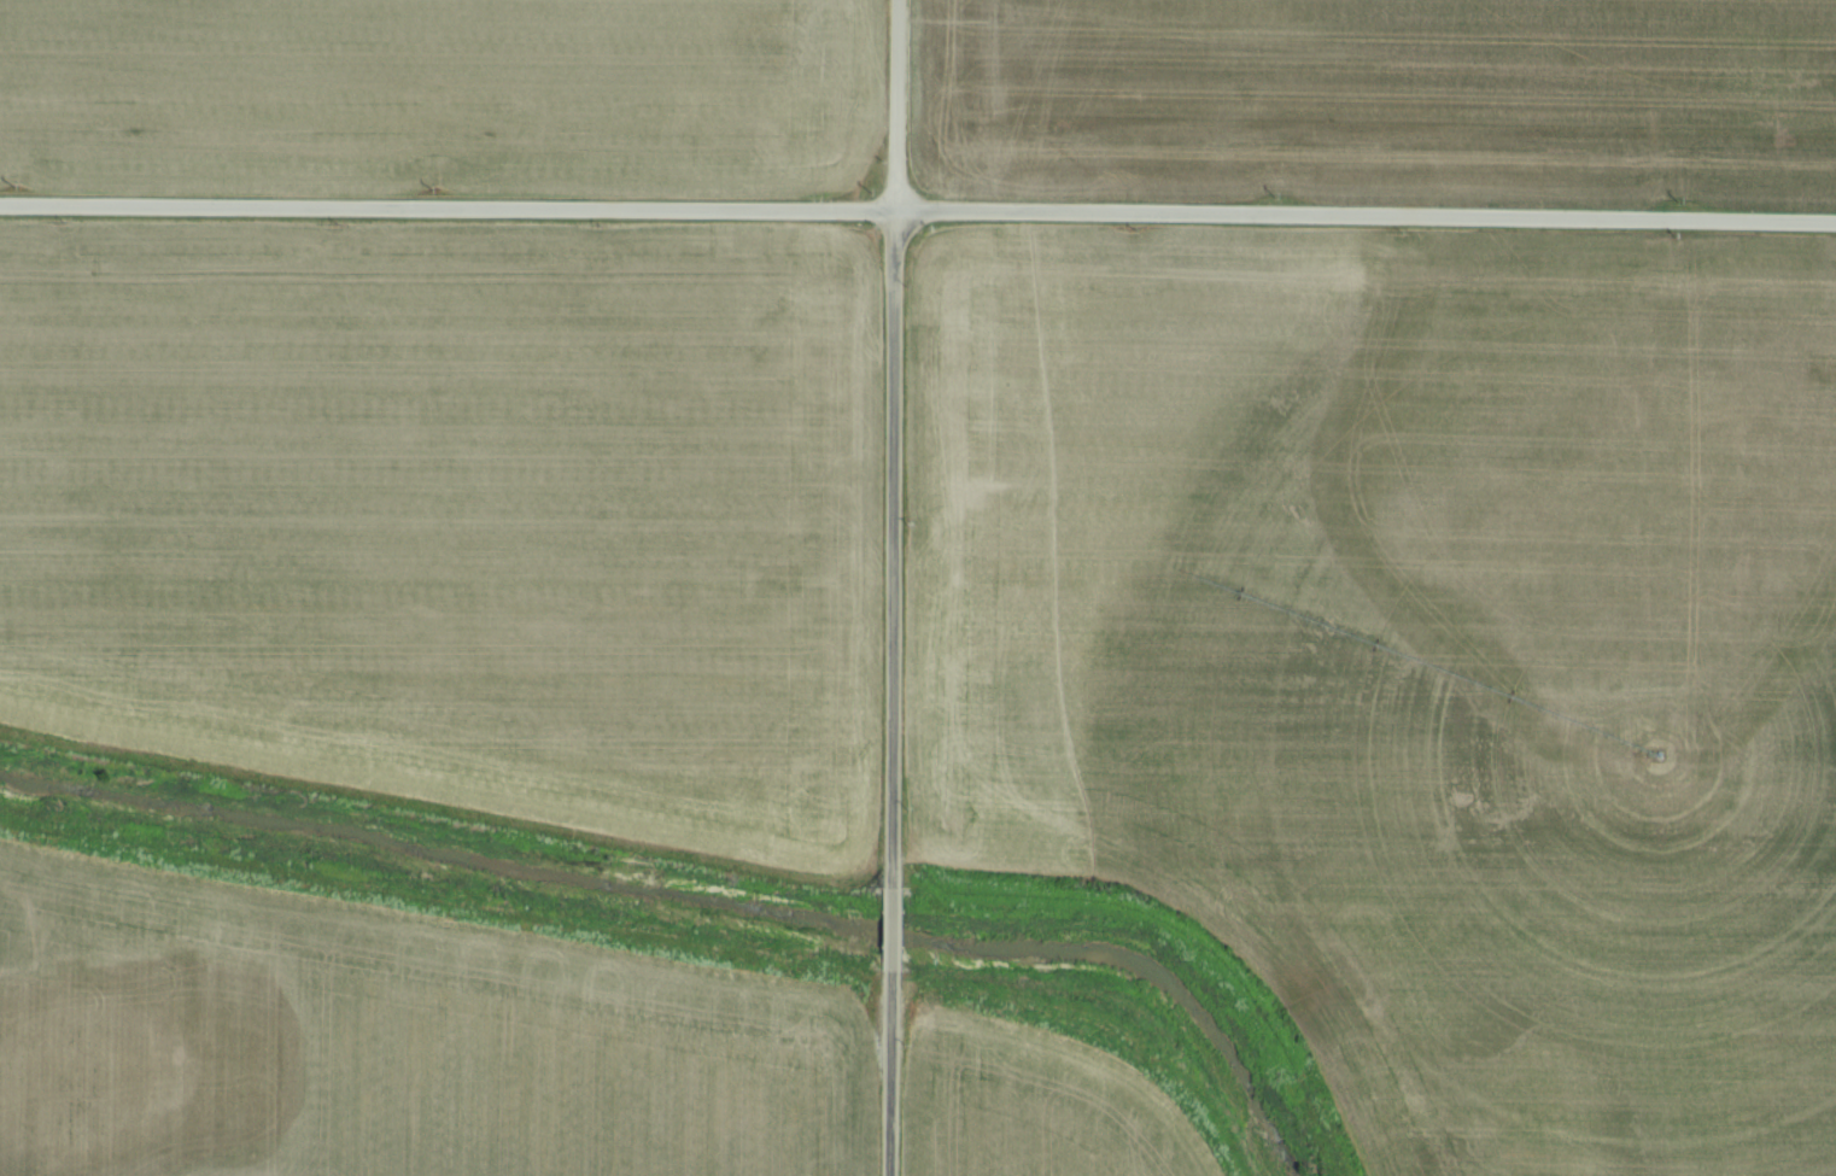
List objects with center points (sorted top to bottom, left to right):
road: (888, 105)
road: (918, 211)
road: (889, 549)
river: (698, 903)
road: (891, 926)
road: (890, 1070)

